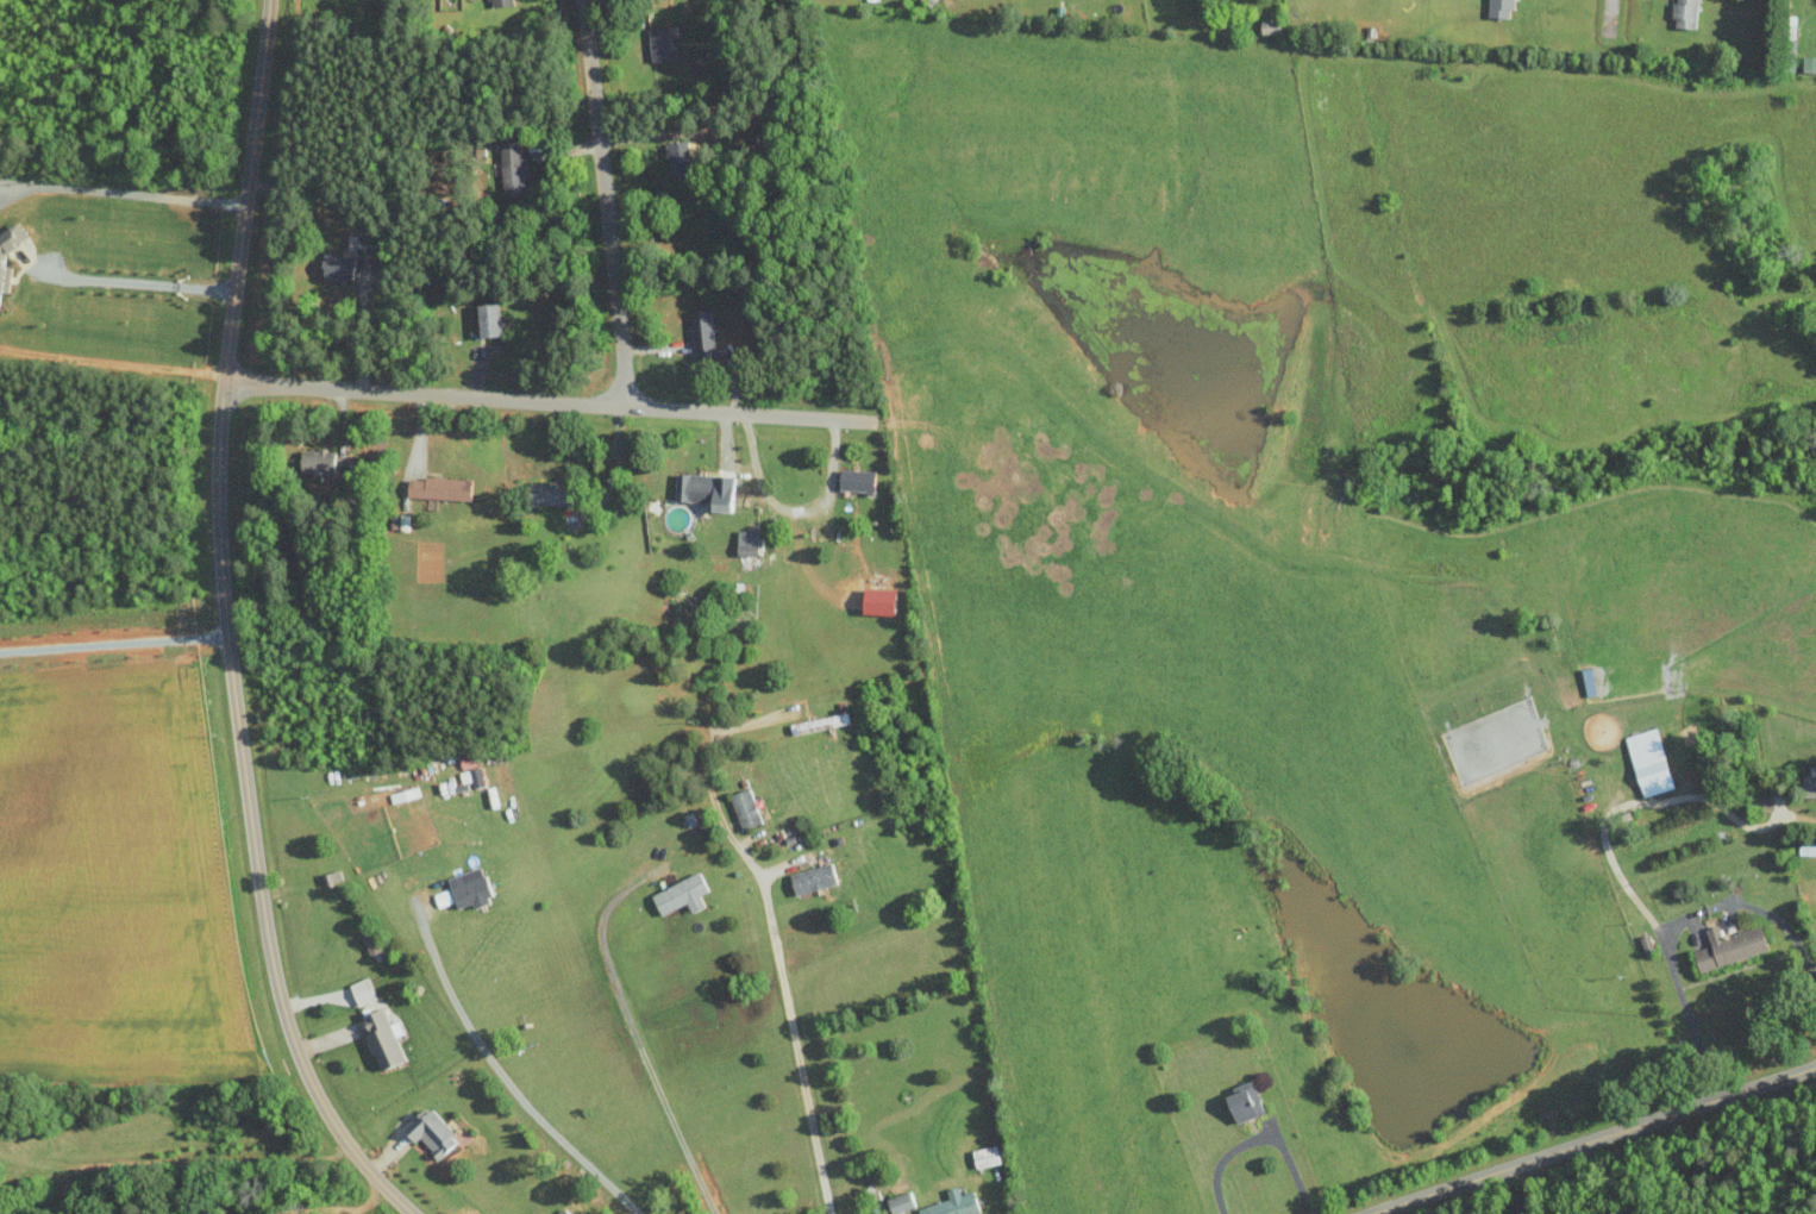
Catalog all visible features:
building: (501, 2)
building: (1501, 8)
building: (1686, 13)
road: (1610, 18)
building: (1269, 26)
building: (659, 43)
building: (1809, 63)
building: (678, 157)
building: (512, 169)
road: (129, 199)
road: (607, 204)
building: (4, 257)
building: (337, 268)
road: (144, 287)
building: (489, 319)
road: (361, 328)
building: (701, 333)
road: (552, 402)
building: (317, 461)
building: (856, 480)
building: (439, 488)
building: (705, 489)
building: (549, 494)
road: (790, 507)
building: (746, 542)
road: (228, 627)
road: (114, 646)
building: (1649, 762)
building: (471, 776)
building: (1809, 786)
road: (1630, 802)
building: (745, 808)
building: (813, 878)
building: (465, 890)
building: (681, 895)
road: (1672, 925)
road: (772, 933)
building: (1729, 947)
building: (381, 1039)
road: (637, 1039)
road: (505, 1078)
building: (1245, 1105)
building: (430, 1132)
road: (1258, 1138)
road: (1596, 1140)
road: (1007, 1190)
building: (900, 1202)
building: (952, 1204)

